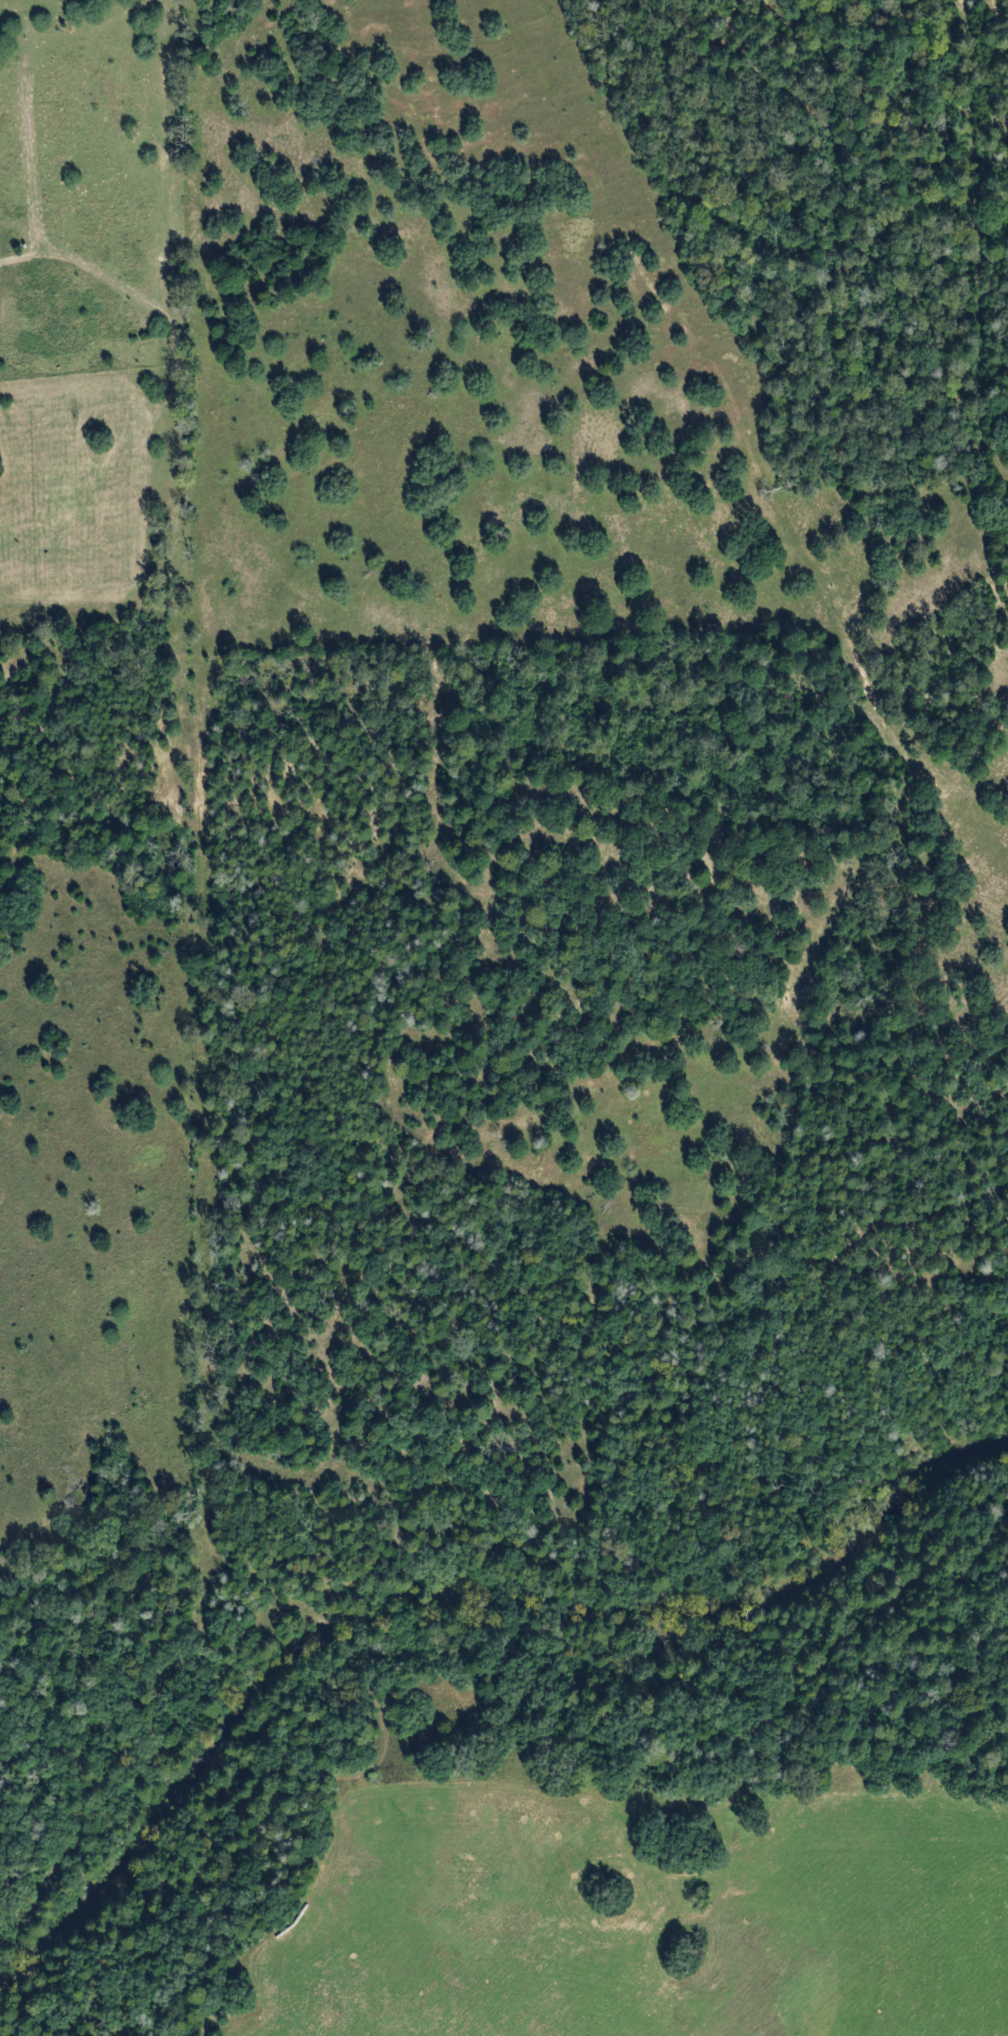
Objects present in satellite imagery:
road: (631, 1849)

